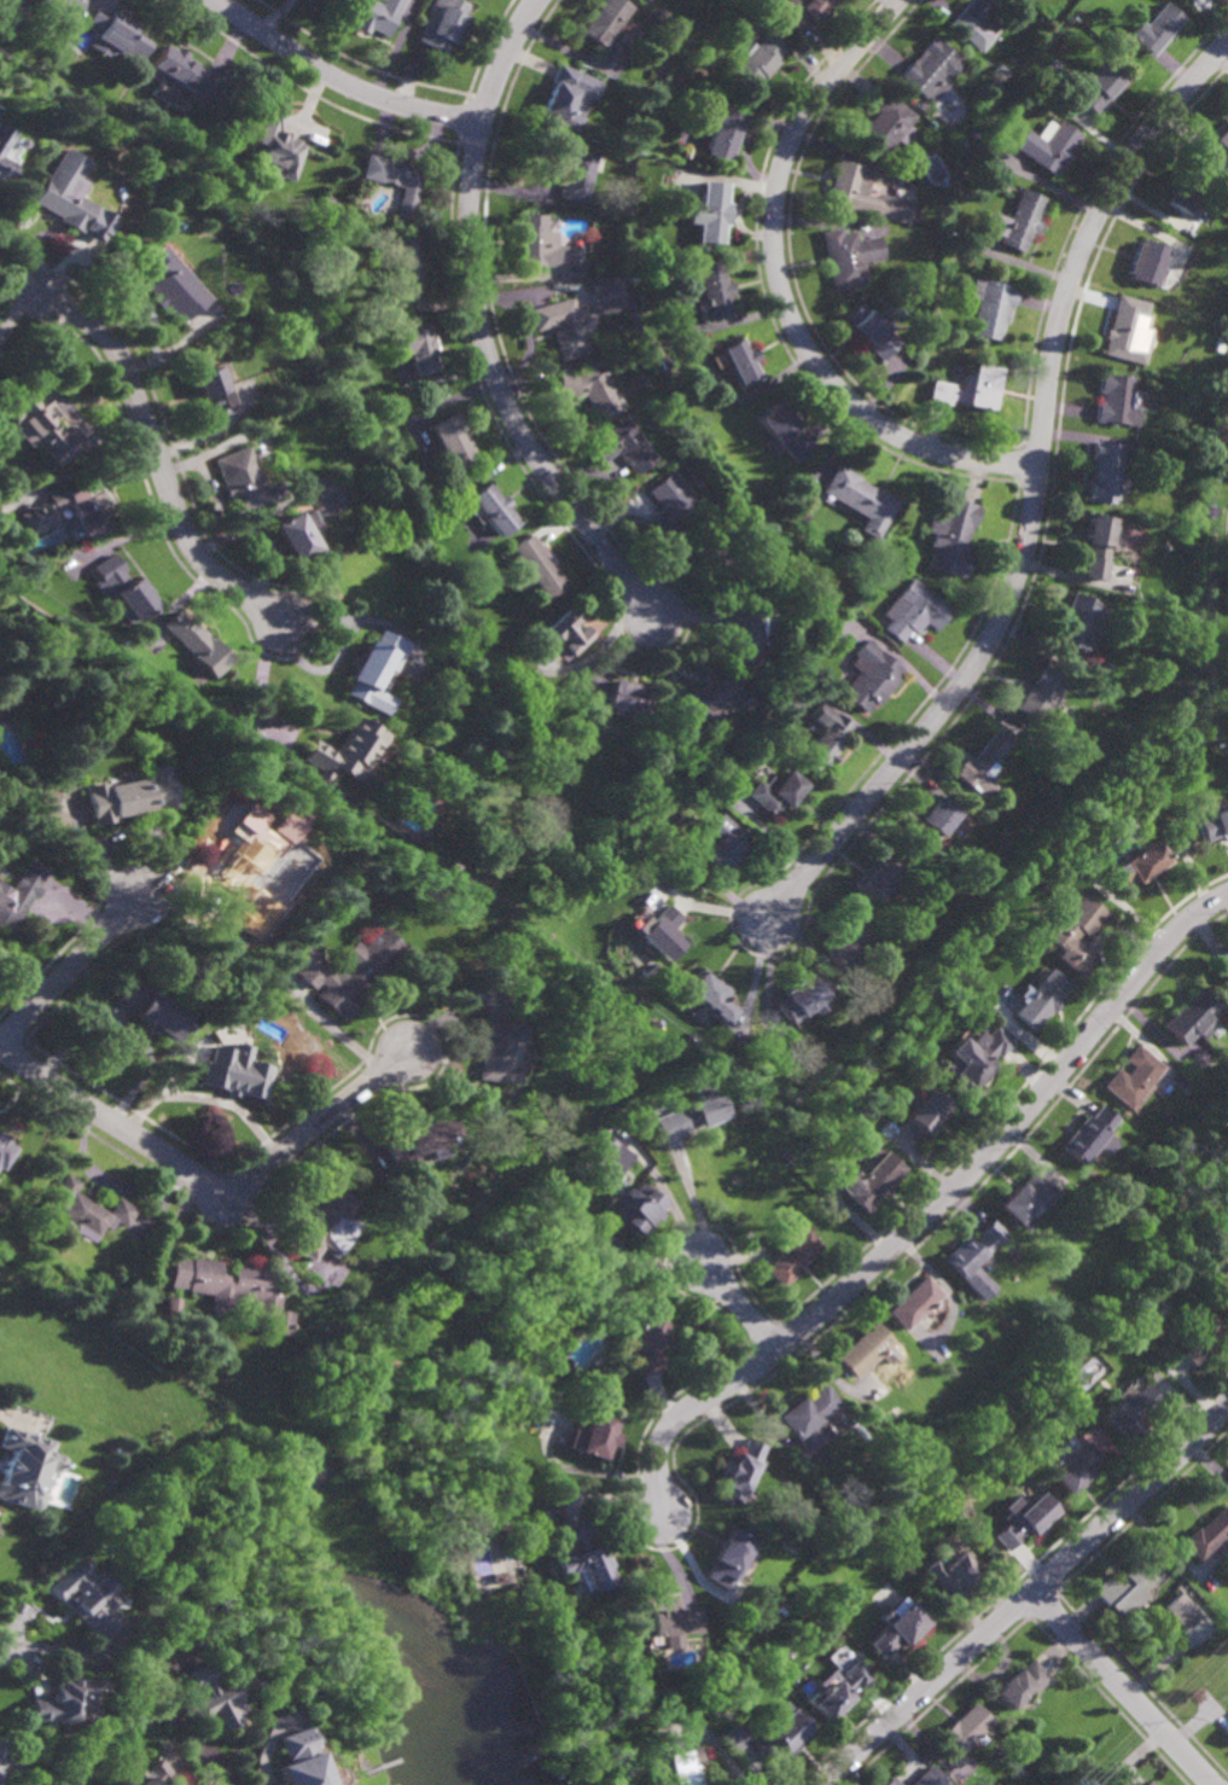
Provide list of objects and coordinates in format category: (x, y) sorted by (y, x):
building: (62, 10)
building: (802, 11)
building: (374, 13)
building: (978, 18)
building: (605, 21)
building: (446, 25)
building: (1153, 28)
building: (114, 37)
building: (1141, 56)
road: (505, 58)
building: (760, 60)
building: (932, 70)
building: (1006, 76)
building: (181, 79)
road: (341, 79)
building: (997, 85)
building: (1099, 87)
building: (569, 97)
building: (887, 126)
building: (721, 133)
building: (1220, 136)
building: (274, 145)
building: (1049, 145)
building: (5, 157)
building: (572, 170)
building: (394, 179)
building: (1186, 188)
building: (64, 191)
building: (863, 193)
building: (711, 209)
building: (915, 214)
building: (1019, 221)
road: (1089, 236)
building: (536, 240)
building: (575, 251)
building: (850, 255)
building: (1147, 261)
building: (405, 264)
building: (173, 286)
building: (712, 286)
road: (784, 292)
building: (609, 295)
building: (991, 307)
building: (564, 324)
building: (623, 325)
building: (1125, 330)
building: (877, 333)
building: (413, 344)
building: (740, 360)
building: (667, 362)
building: (213, 388)
building: (970, 388)
road: (501, 390)
building: (593, 390)
building: (1118, 400)
building: (31, 411)
building: (786, 430)
road: (150, 438)
building: (450, 441)
building: (628, 447)
building: (1106, 473)
building: (241, 479)
building: (862, 499)
building: (674, 507)
building: (494, 508)
building: (72, 512)
building: (295, 533)
building: (953, 537)
building: (1100, 543)
building: (710, 551)
building: (536, 565)
building: (124, 589)
building: (915, 611)
building: (1078, 622)
building: (752, 630)
building: (565, 634)
building: (198, 643)
building: (92, 661)
building: (373, 670)
building: (871, 676)
building: (1041, 697)
building: (630, 698)
building: (712, 698)
road: (262, 703)
road: (939, 711)
building: (825, 739)
building: (348, 750)
building: (648, 755)
building: (77, 762)
building: (980, 763)
building: (775, 793)
building: (132, 797)
building: (51, 807)
building: (931, 822)
building: (1214, 826)
building: (724, 844)
building: (1139, 866)
building: (449, 868)
building: (238, 878)
building: (874, 880)
building: (21, 895)
building: (664, 935)
building: (1075, 936)
building: (849, 944)
road: (25, 971)
road: (69, 971)
building: (347, 971)
building: (1226, 973)
building: (802, 998)
building: (711, 999)
building: (1041, 1002)
building: (156, 1010)
building: (1191, 1019)
building: (496, 1053)
building: (977, 1060)
building: (235, 1072)
building: (1131, 1077)
building: (930, 1110)
building: (693, 1111)
road: (1011, 1128)
building: (1088, 1133)
building: (419, 1139)
building: (4, 1144)
building: (4, 1170)
building: (873, 1179)
road: (206, 1181)
building: (629, 1196)
building: (1026, 1196)
road: (692, 1203)
building: (86, 1210)
building: (321, 1222)
building: (974, 1248)
building: (792, 1257)
building: (1218, 1269)
building: (599, 1275)
building: (232, 1287)
building: (915, 1302)
building: (60, 1304)
building: (171, 1304)
road: (739, 1307)
building: (1192, 1337)
building: (650, 1339)
building: (865, 1349)
road: (686, 1409)
building: (1127, 1412)
building: (810, 1415)
building: (596, 1435)
building: (1070, 1466)
building: (23, 1467)
building: (743, 1471)
building: (1023, 1519)
building: (1207, 1534)
building: (728, 1559)
building: (583, 1560)
building: (954, 1577)
building: (1128, 1588)
road: (1029, 1597)
building: (86, 1599)
building: (1181, 1611)
building: (668, 1627)
building: (897, 1629)
road: (7, 1656)
building: (1023, 1685)
road: (1122, 1690)
building: (839, 1693)
building: (214, 1697)
building: (63, 1704)
road: (174, 1721)
building: (965, 1731)
building: (732, 1734)
building: (1226, 1734)
building: (780, 1739)
building: (296, 1761)
building: (7, 1764)
building: (680, 1767)
building: (151, 1777)
building: (929, 1778)
building: (891, 1783)
building: (1148, 1784)

